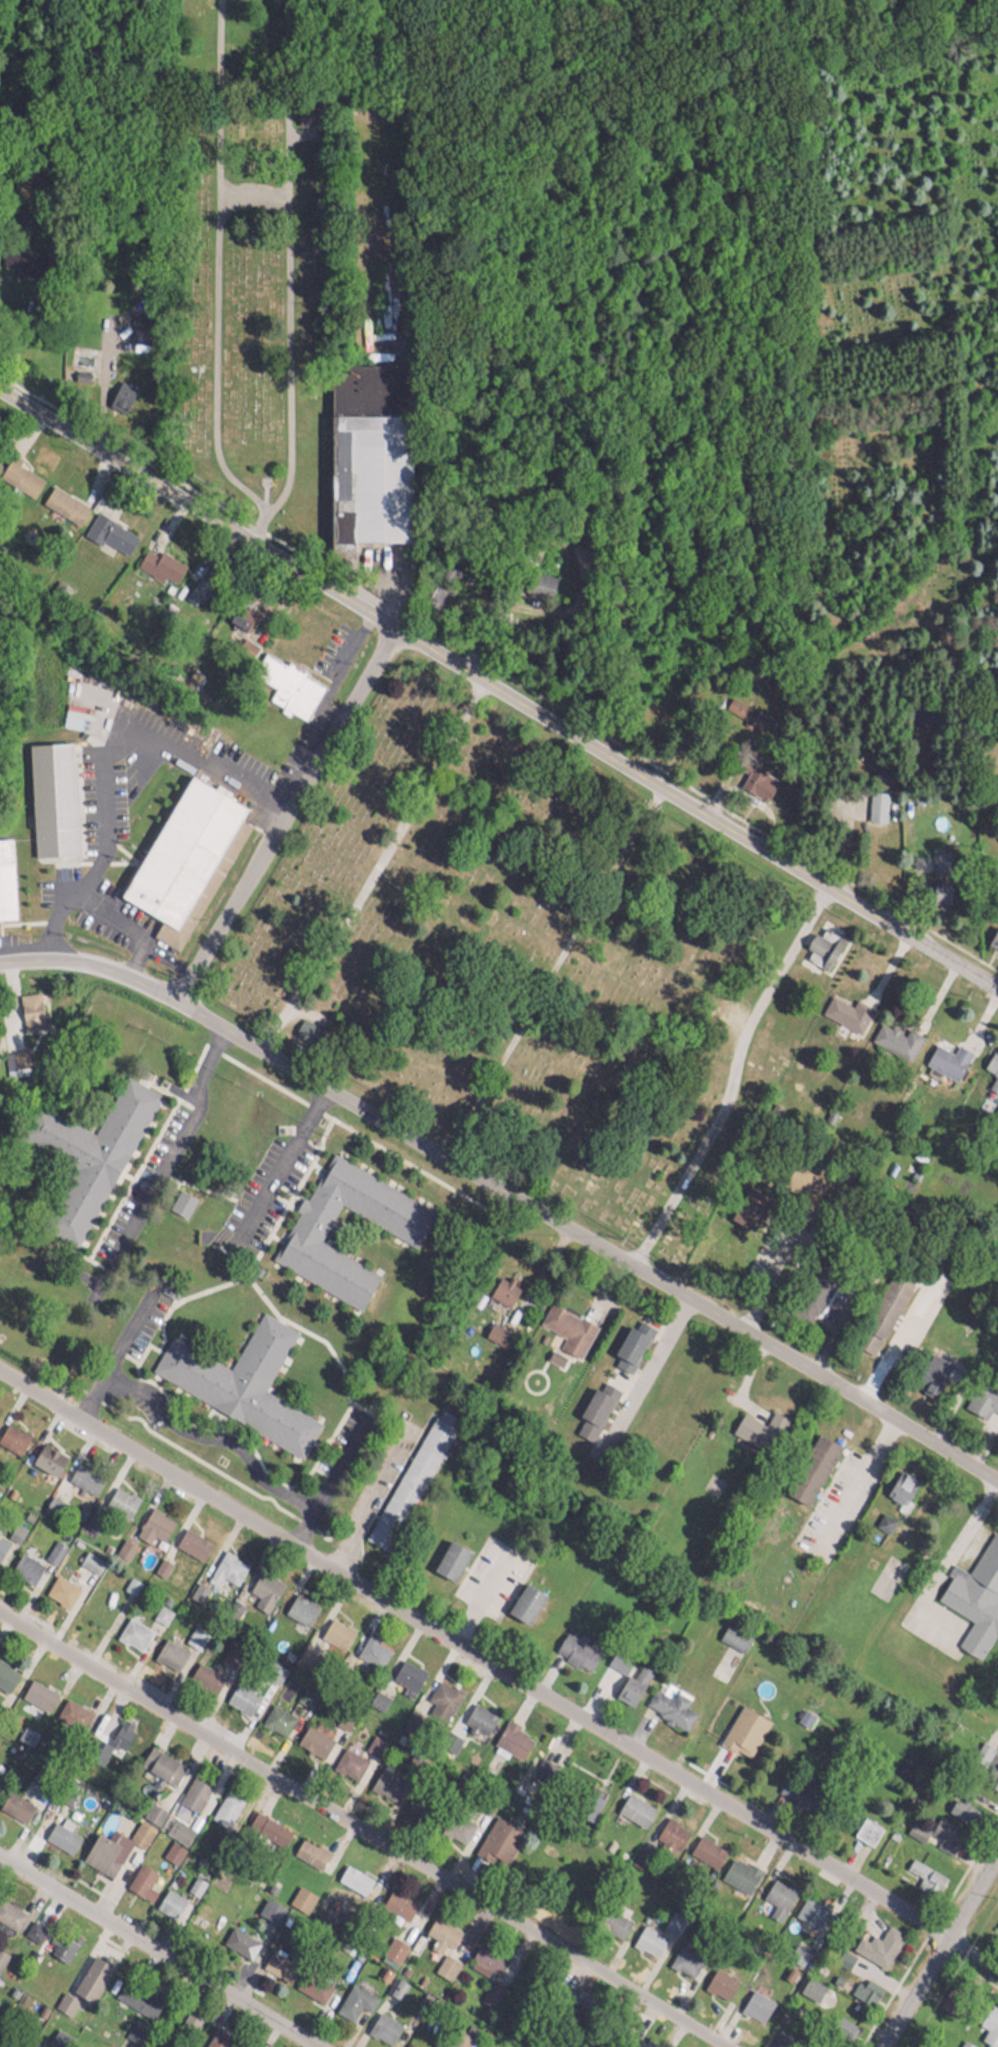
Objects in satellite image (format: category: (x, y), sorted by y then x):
park: (248, 255)
road: (20, 342)
building: (119, 391)
building: (351, 421)
building: (19, 472)
road: (198, 505)
building: (109, 529)
building: (160, 560)
building: (744, 708)
road: (95, 761)
building: (754, 776)
road: (696, 806)
road: (286, 812)
building: (4, 846)
building: (179, 847)
road: (377, 867)
building: (936, 887)
building: (993, 932)
road: (130, 935)
building: (819, 944)
road: (134, 960)
park: (528, 960)
building: (846, 1008)
building: (30, 1009)
building: (894, 1034)
building: (946, 1055)
building: (990, 1069)
road: (727, 1076)
road: (177, 1149)
road: (283, 1166)
building: (180, 1197)
road: (509, 1197)
building: (307, 1222)
road: (768, 1280)
road: (118, 1338)
building: (630, 1339)
road: (890, 1348)
building: (235, 1372)
road: (644, 1373)
building: (590, 1409)
building: (12, 1433)
road: (209, 1437)
building: (46, 1453)
road: (332, 1471)
building: (84, 1473)
building: (410, 1473)
building: (119, 1497)
road: (370, 1506)
building: (154, 1520)
building: (192, 1538)
road: (930, 1539)
building: (1, 1540)
building: (53, 1546)
building: (448, 1555)
building: (90, 1557)
building: (24, 1561)
building: (224, 1566)
building: (60, 1585)
building: (262, 1586)
building: (975, 1593)
building: (299, 1603)
building: (162, 1608)
building: (132, 1628)
building: (575, 1646)
building: (168, 1649)
building: (406, 1669)
building: (203, 1672)
road: (498, 1675)
building: (253, 1684)
building: (35, 1688)
building: (668, 1701)
building: (68, 1704)
road: (957, 1712)
building: (276, 1716)
building: (743, 1726)
building: (120, 1728)
building: (514, 1732)
building: (312, 1736)
building: (159, 1758)
building: (992, 1771)
building: (383, 1780)
building: (586, 1797)
building: (956, 1802)
building: (224, 1804)
building: (633, 1805)
building: (140, 1828)
building: (670, 1828)
building: (943, 1828)
building: (60, 1833)
road: (355, 1835)
building: (309, 1847)
building: (101, 1849)
building: (924, 1867)
building: (141, 1876)
building: (774, 1886)
building: (169, 1897)
building: (9, 1910)
building: (996, 1920)
building: (238, 1937)
building: (646, 1937)
building: (882, 1937)
building: (440, 1939)
building: (396, 1942)
road: (939, 1949)
building: (2, 1952)
road: (154, 1953)
building: (89, 1974)
building: (719, 1979)
building: (393, 1982)
building: (809, 1982)
building: (863, 1985)
building: (353, 1996)
building: (64, 1998)
building: (989, 2021)
building: (133, 2027)
building: (216, 2035)
building: (643, 2041)
building: (36, 2042)
building: (184, 2046)

